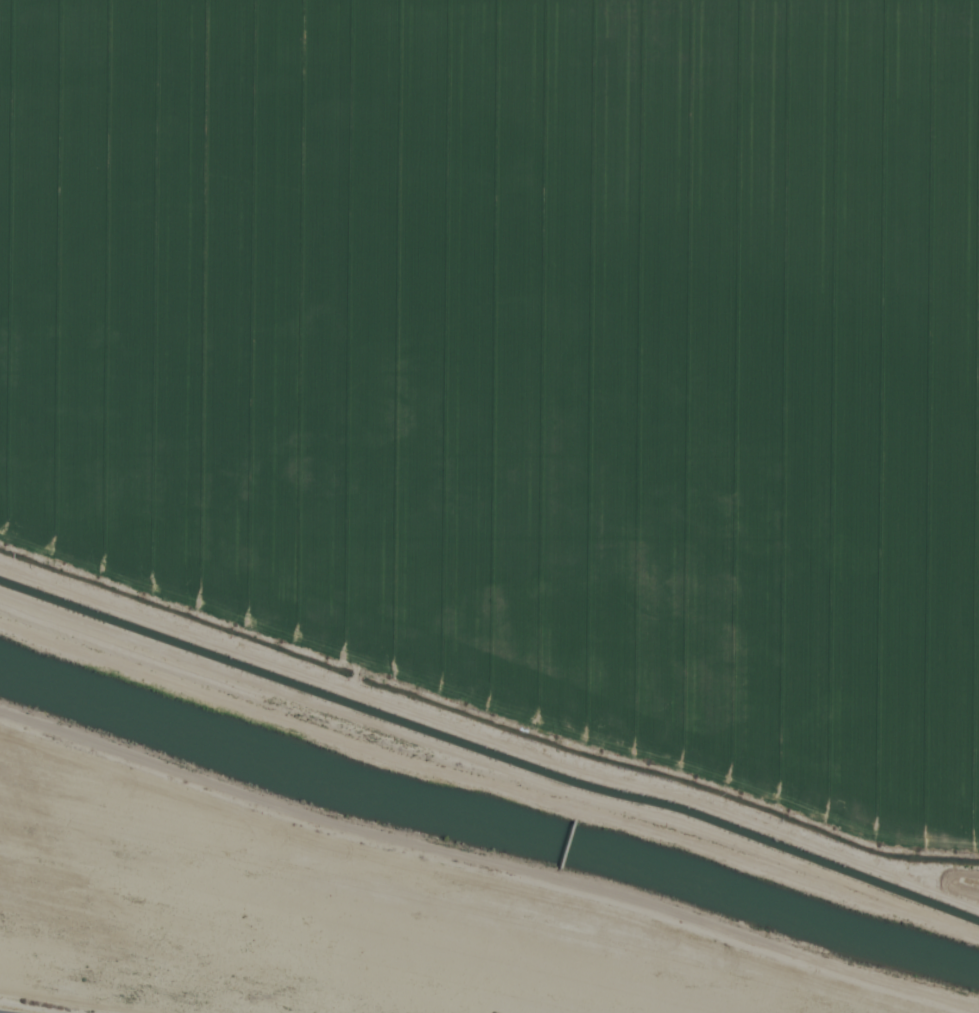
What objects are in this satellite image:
road: (489, 769)

